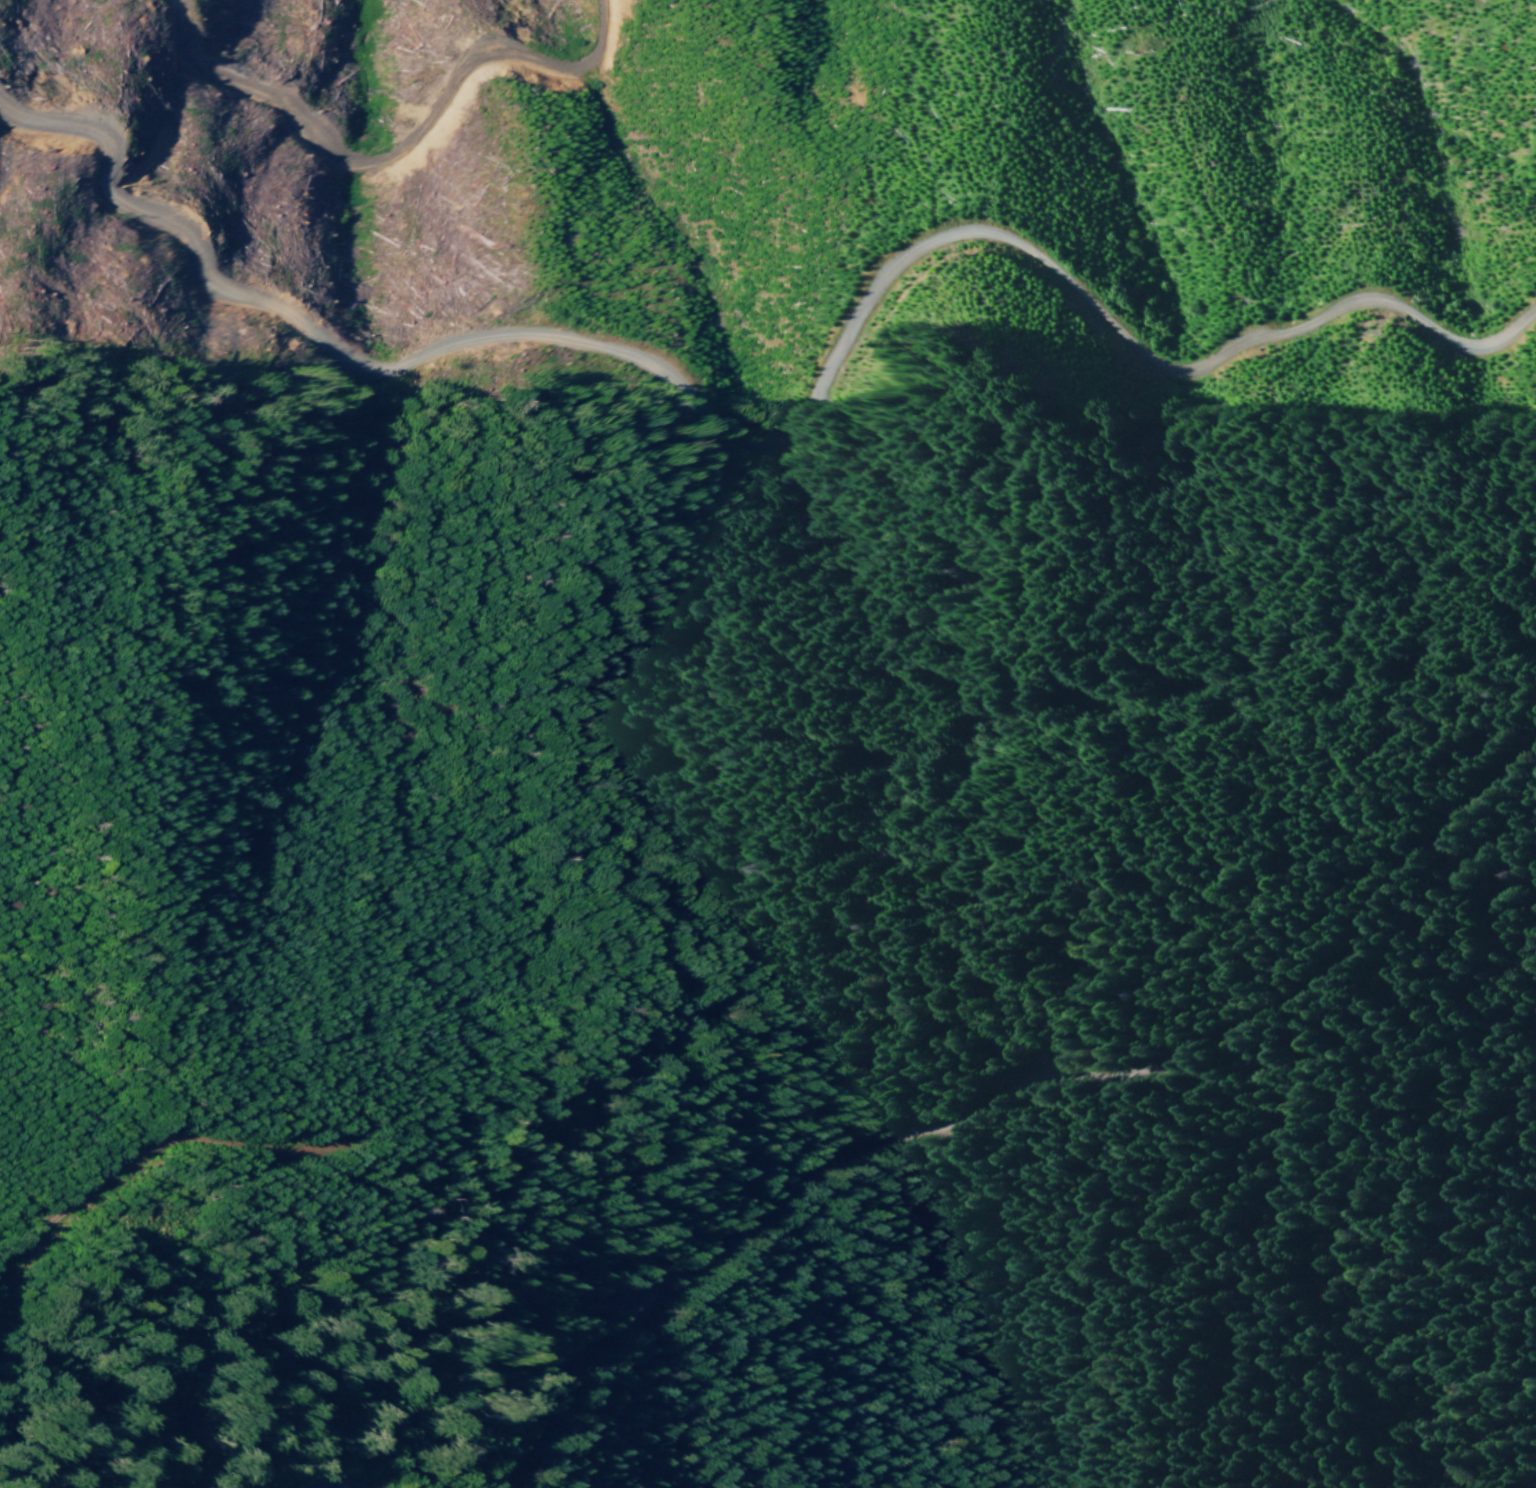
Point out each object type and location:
road: (778, 433)
road: (1000, 1088)
road: (139, 1152)
road: (328, 1484)

